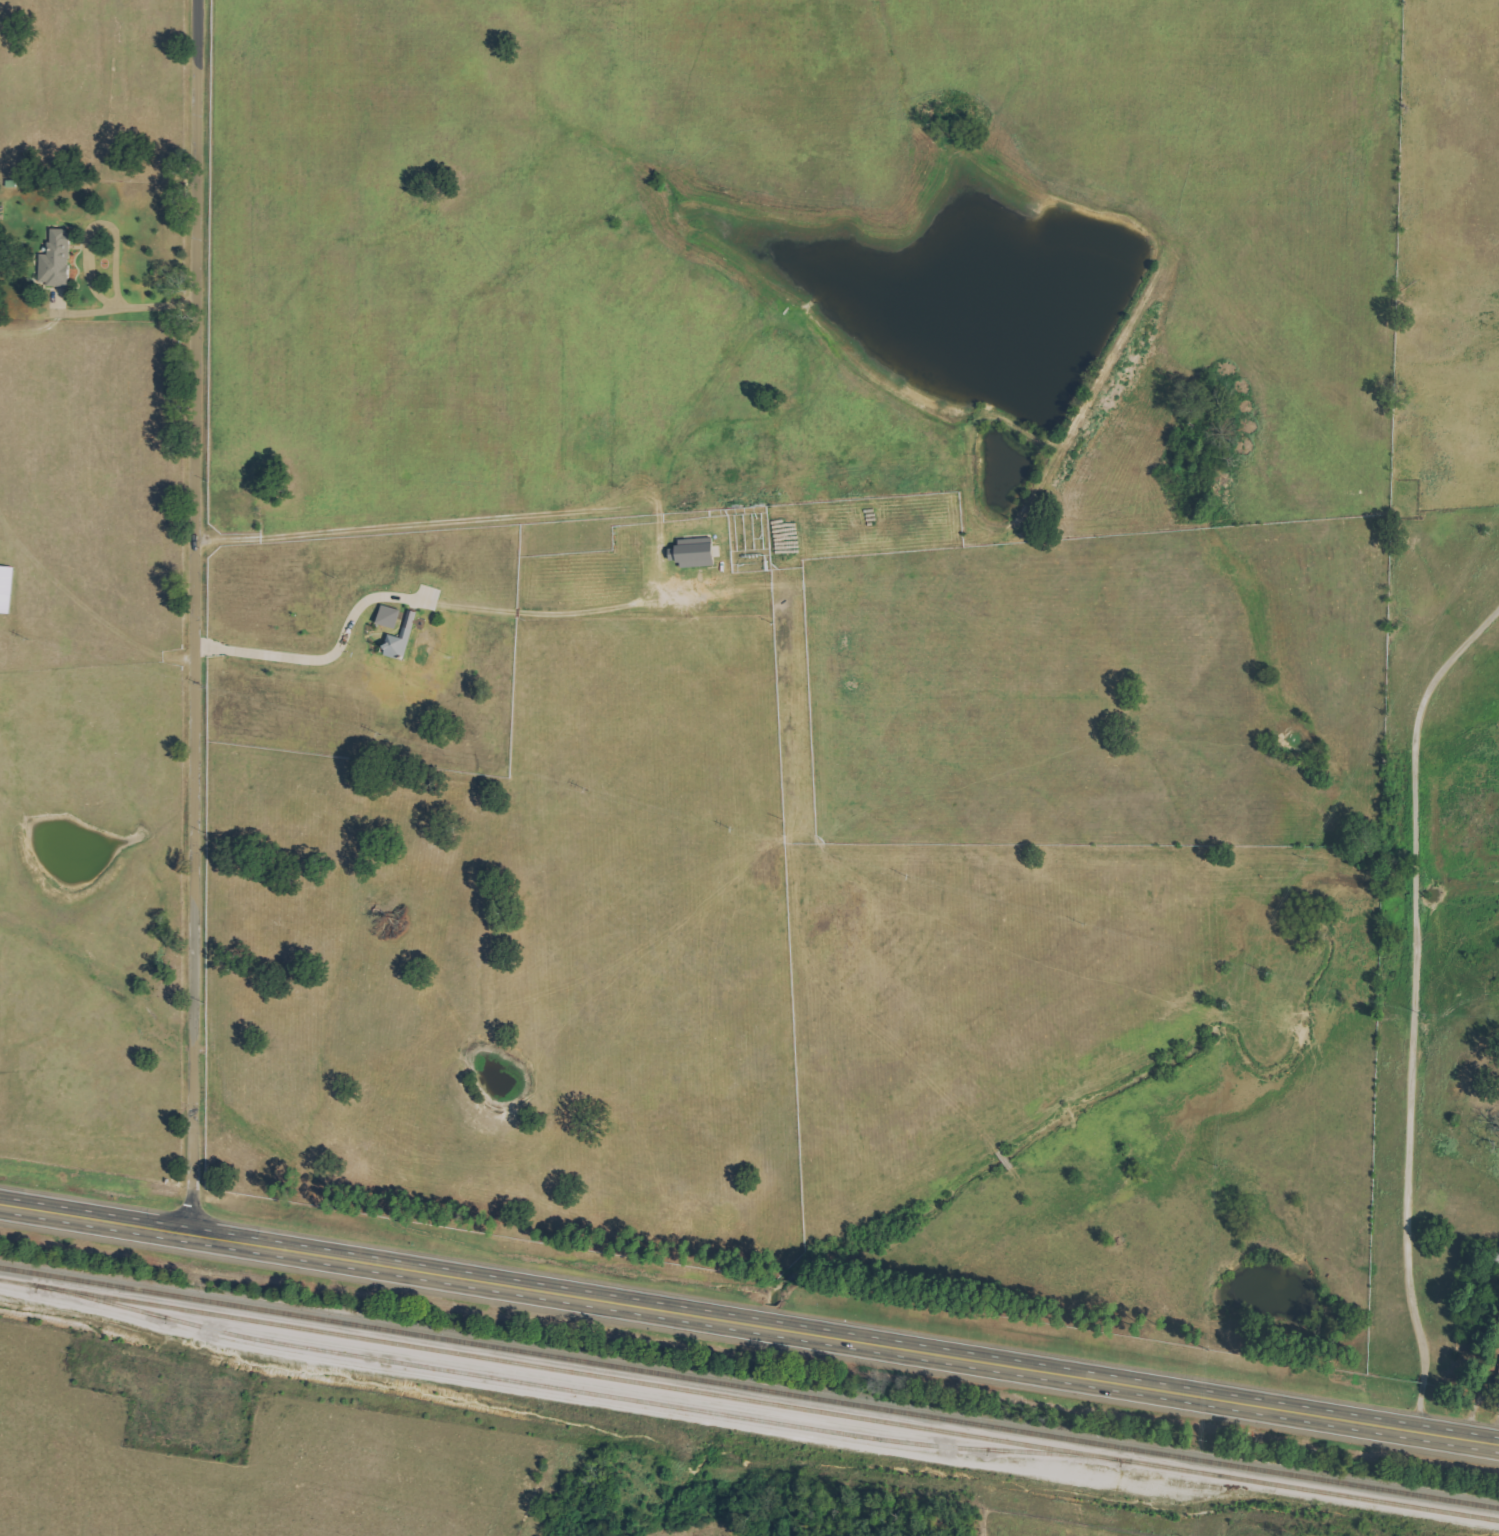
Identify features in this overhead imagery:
road: (103, 226)
building: (58, 260)
road: (127, 309)
road: (410, 522)
power tower: (1482, 533)
building: (7, 589)
road: (195, 616)
building: (391, 617)
road: (323, 654)
power tower: (1379, 716)
power tower: (1295, 861)
power tower: (1214, 1006)
road: (1416, 1011)
road: (749, 1324)
power tower: (1193, 1349)
railway: (749, 1388)
railway: (579, 1391)
railway: (749, 1400)
power tower: (1189, 1493)

